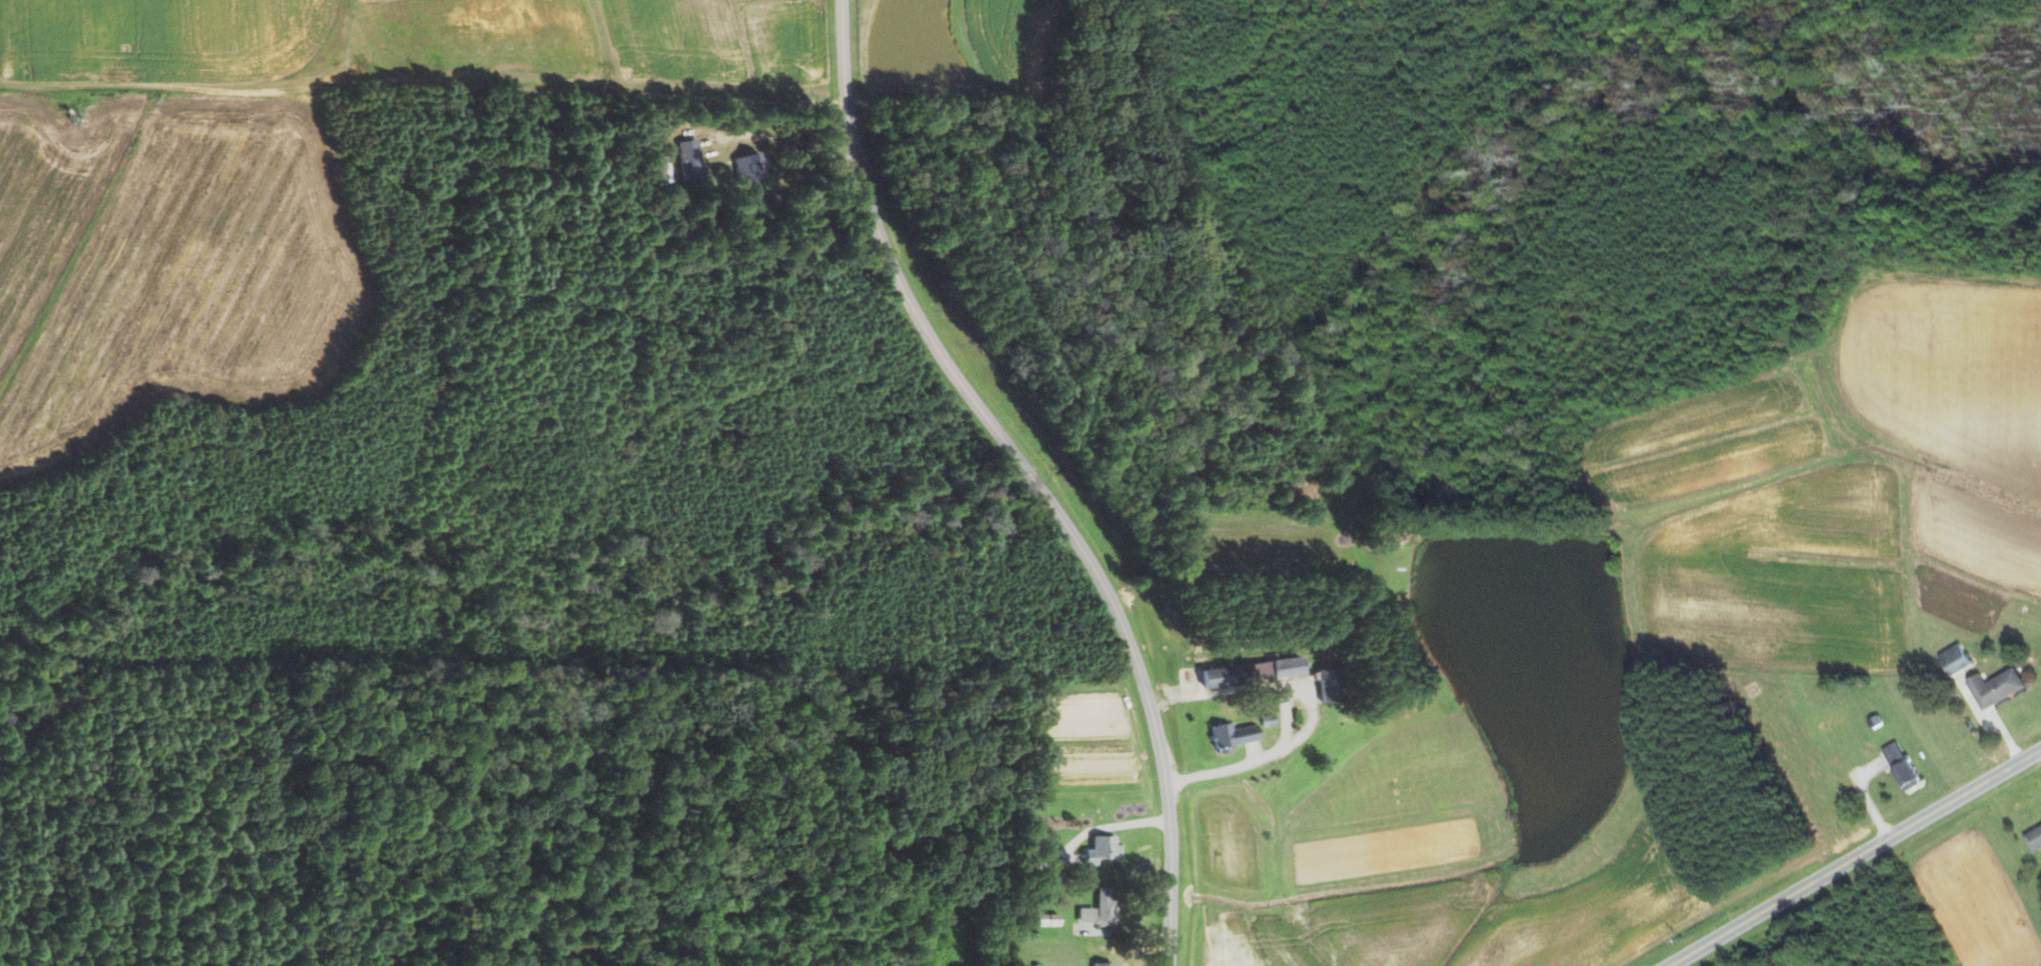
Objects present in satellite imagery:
road: (423, 77)
building: (688, 160)
building: (746, 166)
road: (1029, 475)
building: (1952, 659)
building: (1272, 667)
building: (1208, 676)
building: (1321, 684)
building: (1993, 687)
building: (1821, 722)
building: (1229, 733)
road: (1296, 740)
building: (1899, 766)
building: (2032, 836)
building: (1099, 849)
road: (1857, 857)
building: (1041, 859)
building: (1097, 909)
building: (1044, 919)
building: (1099, 964)

